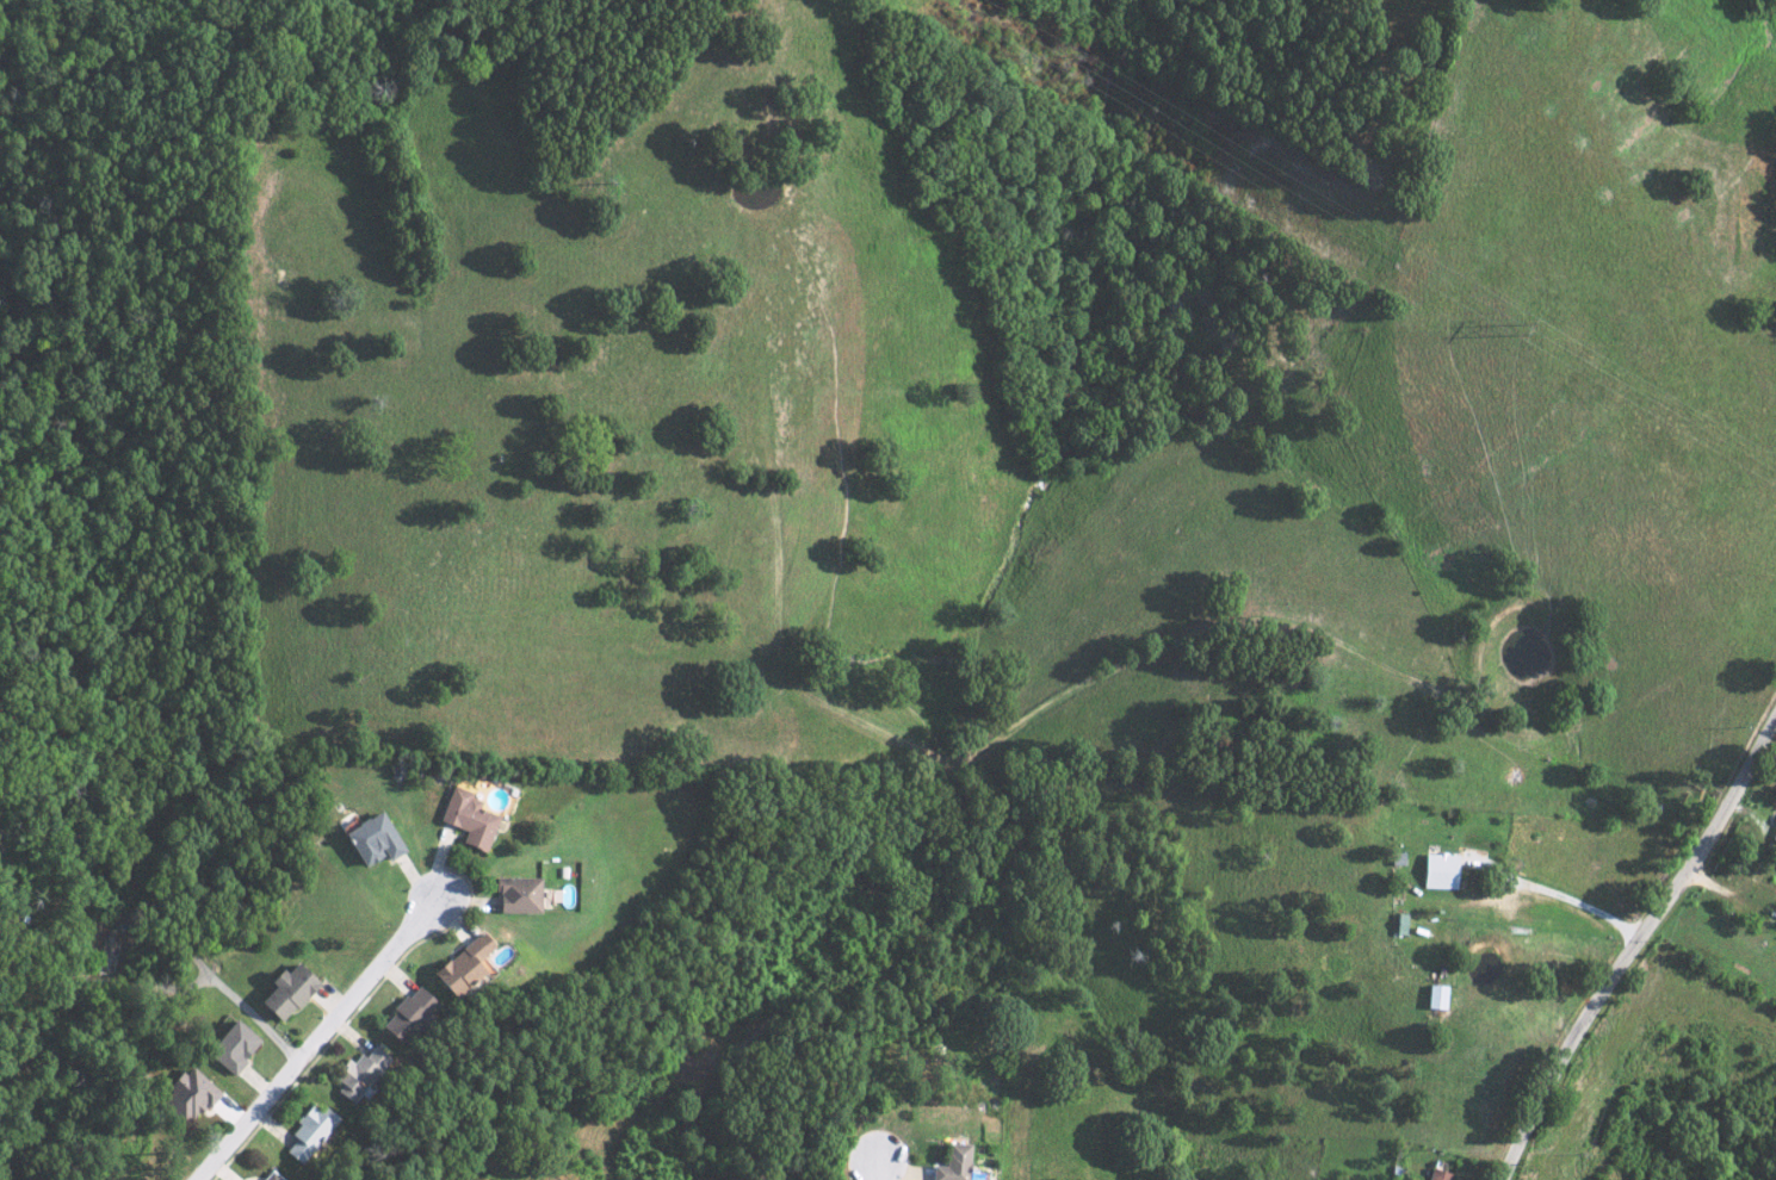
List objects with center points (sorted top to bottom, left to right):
power tower: (1523, 331)
building: (466, 818)
building: (1772, 831)
building: (371, 839)
building: (1437, 870)
building: (514, 894)
road: (1572, 900)
building: (1775, 929)
road: (1630, 943)
building: (459, 965)
building: (284, 990)
building: (1432, 996)
building: (406, 1014)
road: (323, 1038)
building: (229, 1047)
building: (352, 1076)
building: (184, 1095)
building: (305, 1132)
building: (948, 1163)
road: (871, 1169)
building: (1435, 1174)
building: (268, 1176)
building: (241, 1179)

